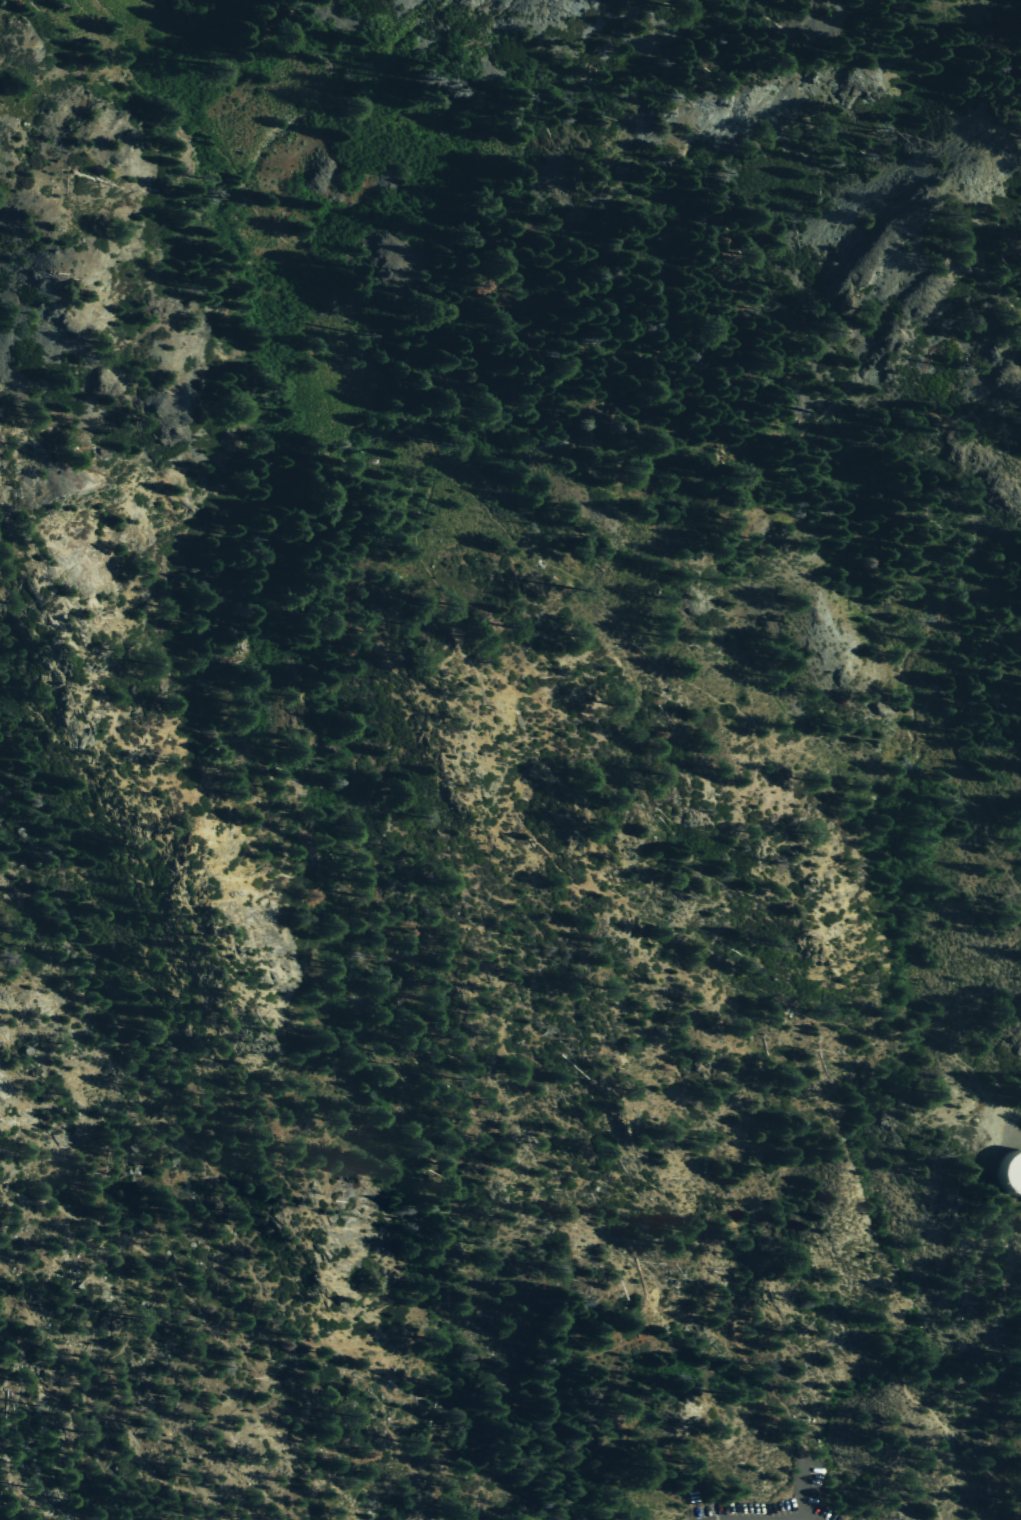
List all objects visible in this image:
road: (231, 572)
water tower: (1009, 1165)
building: (1012, 1173)
road: (20, 1199)
road: (509, 1344)
road: (772, 1384)
road: (1003, 1474)
parking lot: (803, 1482)
road: (792, 1485)
road: (1003, 1487)
road: (978, 1492)

